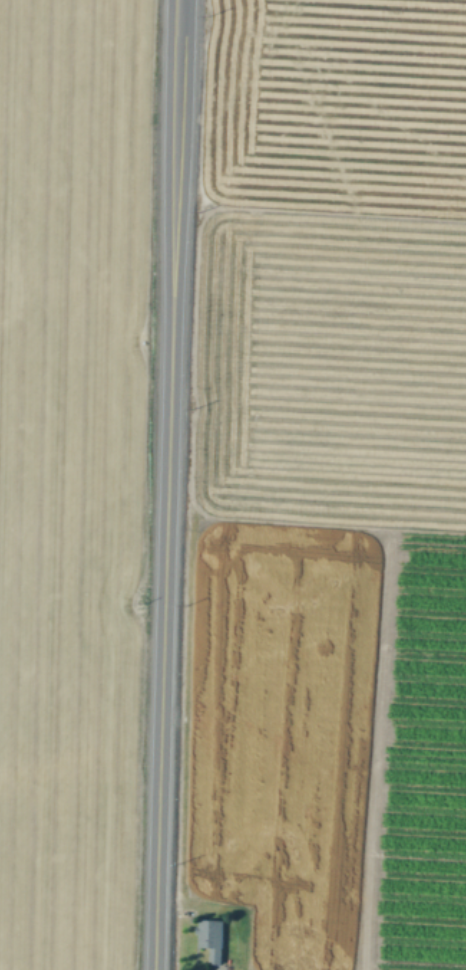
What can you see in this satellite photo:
road: (176, 136)
crop: (233, 485)
road: (164, 621)
building: (214, 938)

